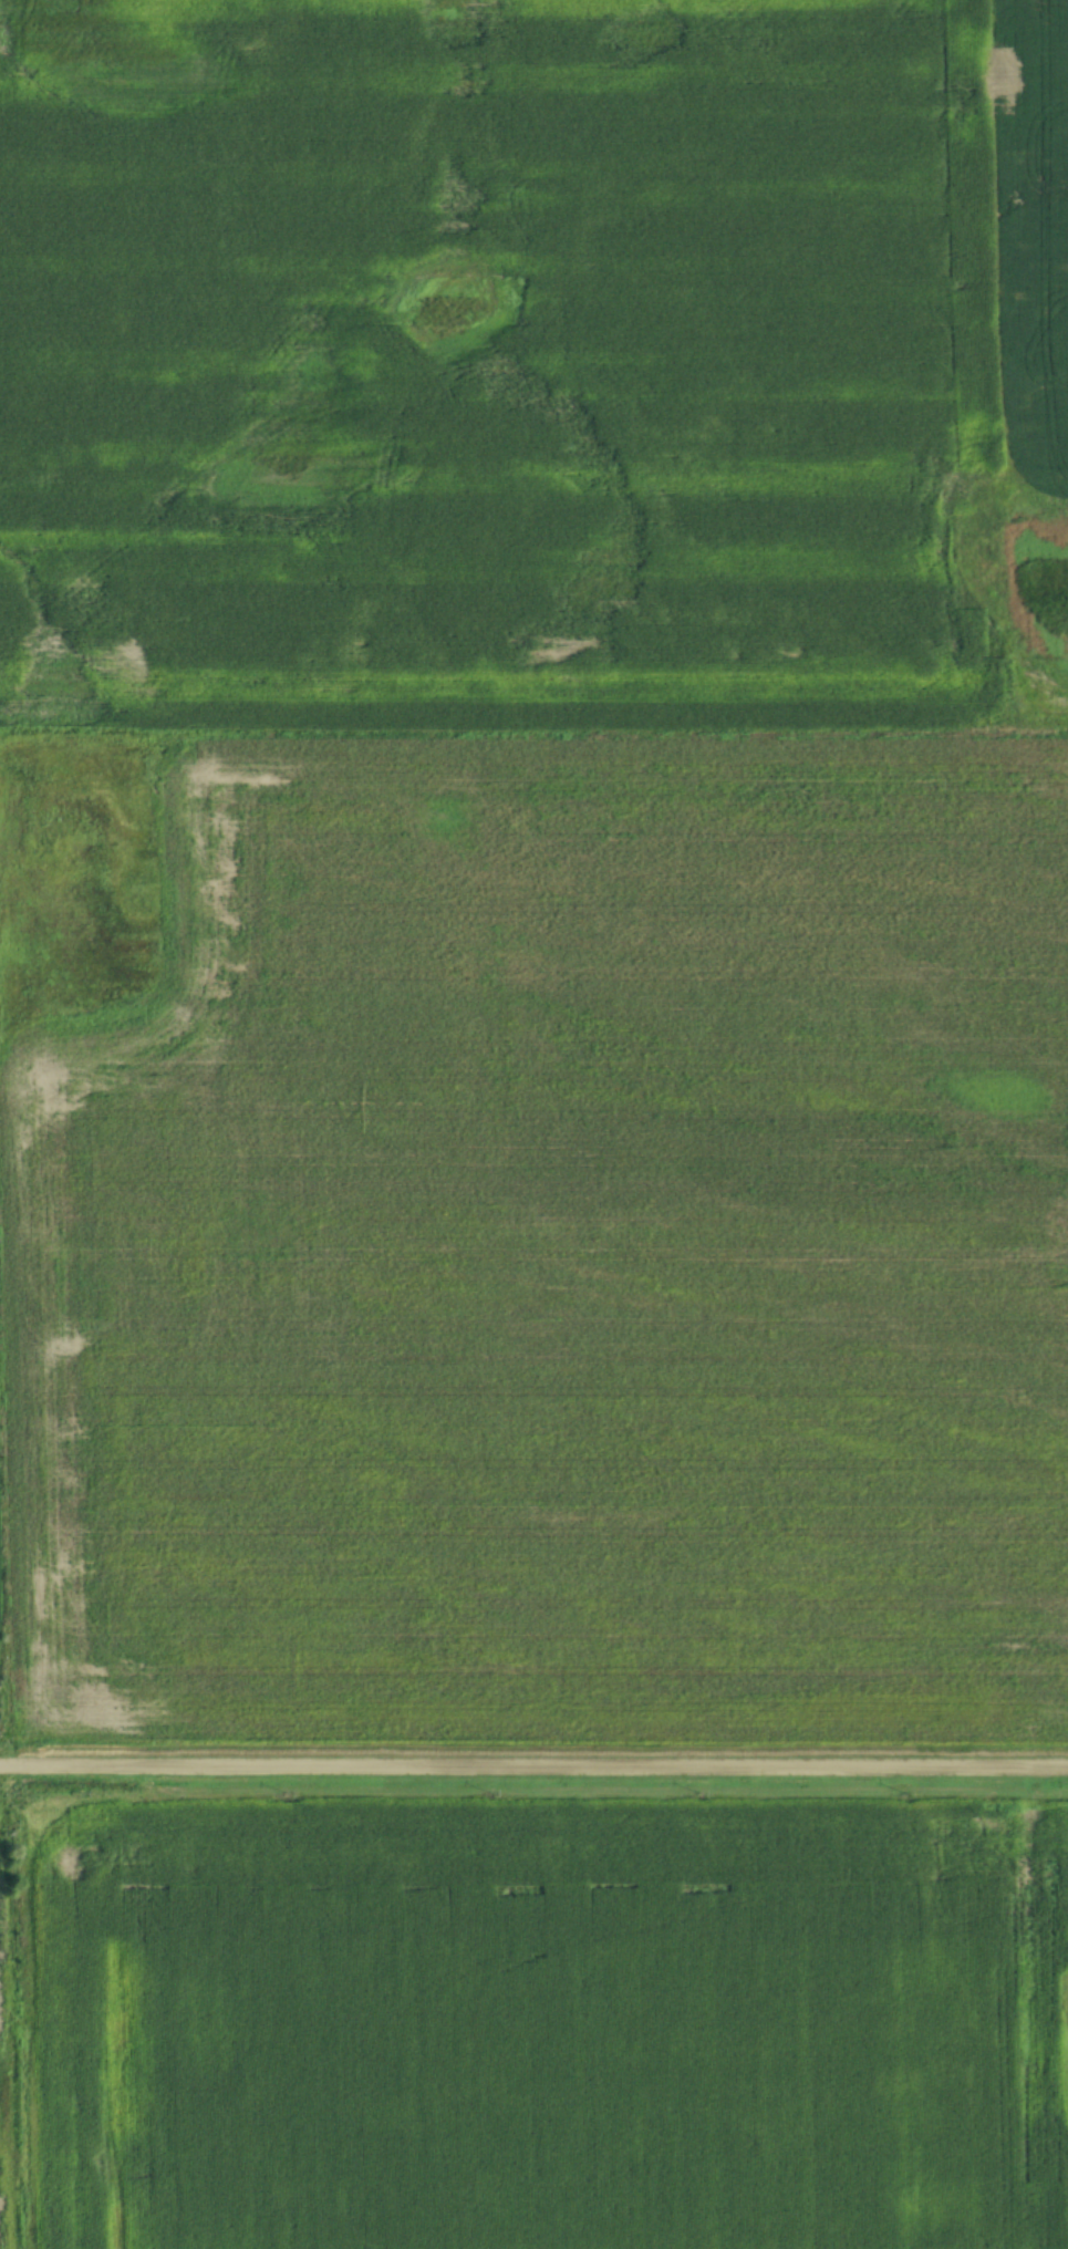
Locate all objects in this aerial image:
road: (533, 1765)

